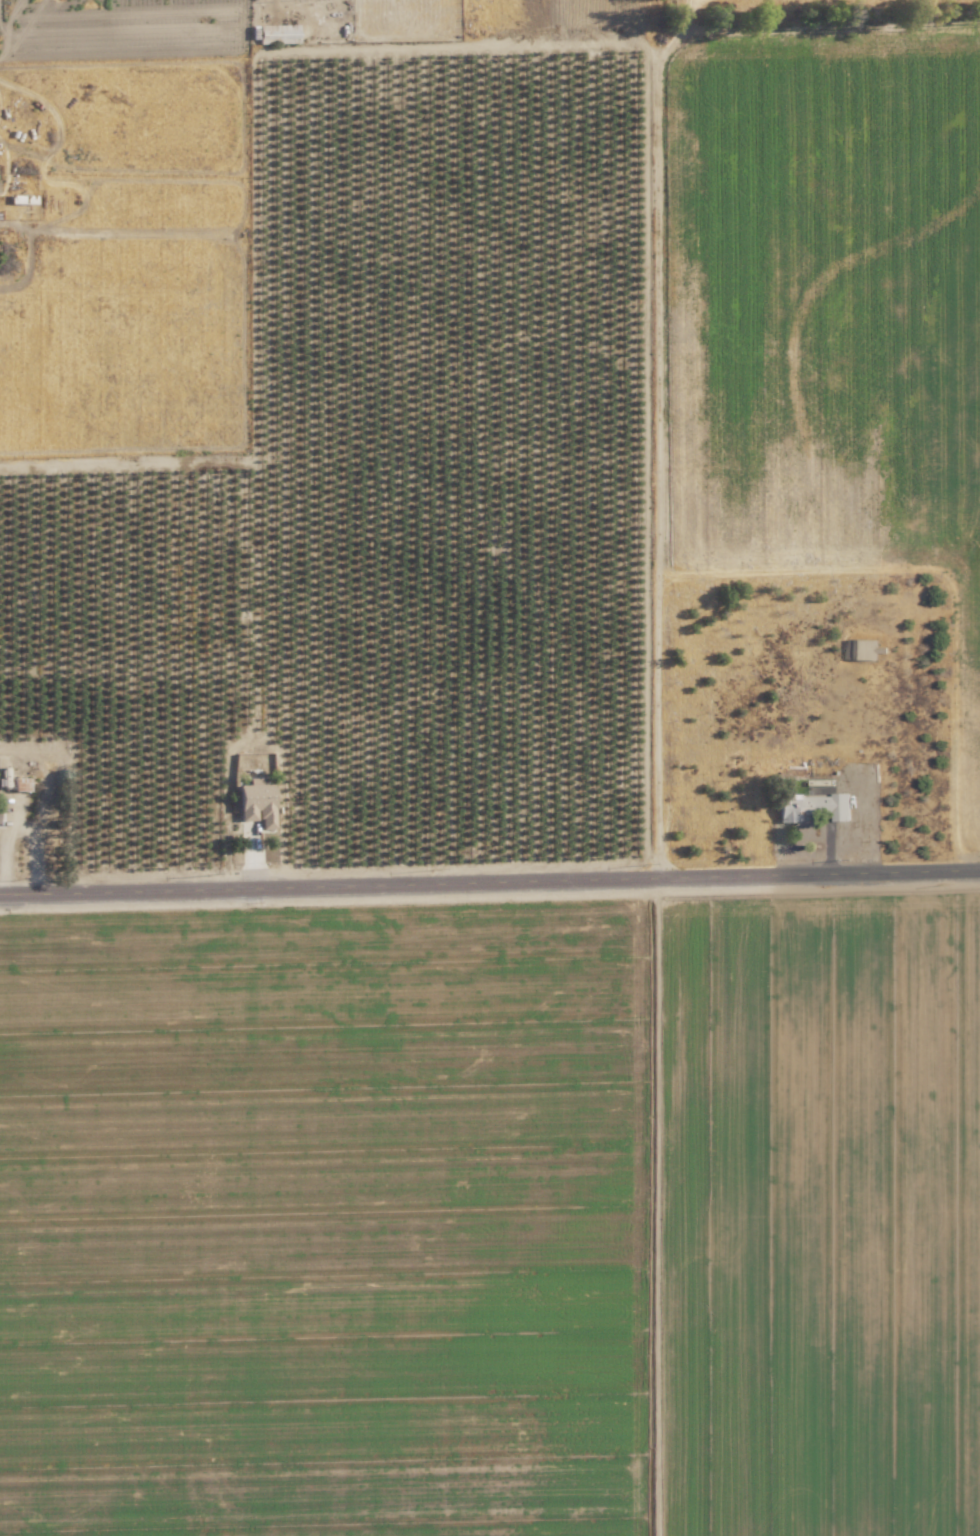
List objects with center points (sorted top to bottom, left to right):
building: (279, 33)
building: (865, 648)
building: (257, 803)
building: (815, 806)
road: (490, 886)

